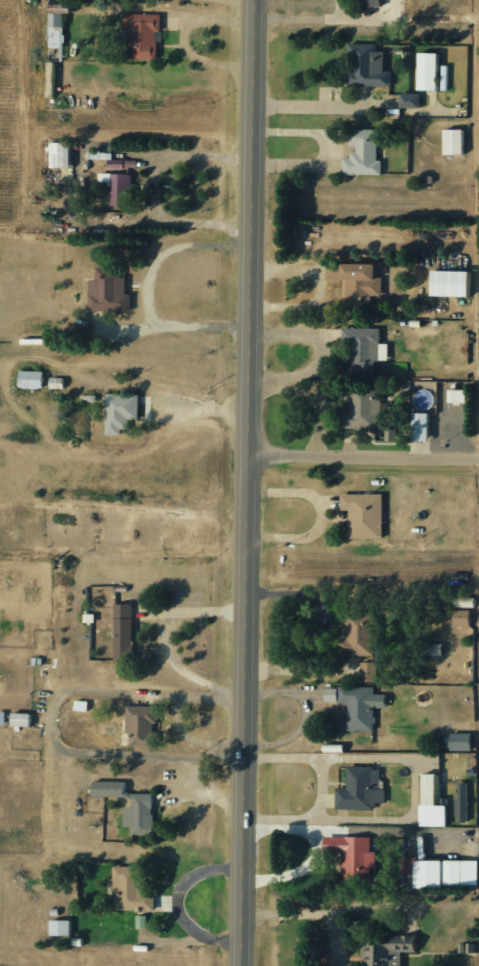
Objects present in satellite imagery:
building: (370, 3)
road: (343, 10)
road: (315, 19)
building: (56, 24)
building: (141, 34)
building: (366, 66)
building: (427, 71)
building: (408, 100)
road: (316, 107)
building: (452, 142)
building: (362, 153)
building: (59, 154)
building: (114, 178)
building: (355, 282)
building: (450, 283)
road: (317, 289)
road: (142, 298)
building: (363, 348)
building: (29, 379)
building: (55, 384)
building: (455, 396)
building: (360, 411)
building: (119, 412)
building: (419, 427)
building: (390, 433)
road: (361, 462)
road: (244, 482)
road: (478, 483)
road: (122, 493)
building: (363, 515)
building: (464, 602)
building: (460, 618)
building: (122, 633)
building: (358, 635)
building: (431, 649)
building: (368, 672)
building: (355, 705)
road: (50, 719)
building: (20, 720)
building: (140, 727)
road: (190, 738)
building: (459, 742)
building: (107, 789)
building: (359, 790)
building: (430, 802)
building: (139, 814)
building: (352, 855)
building: (405, 866)
building: (444, 874)
building: (131, 888)
road: (376, 903)
road: (316, 912)
building: (141, 922)
building: (63, 927)
building: (388, 952)

